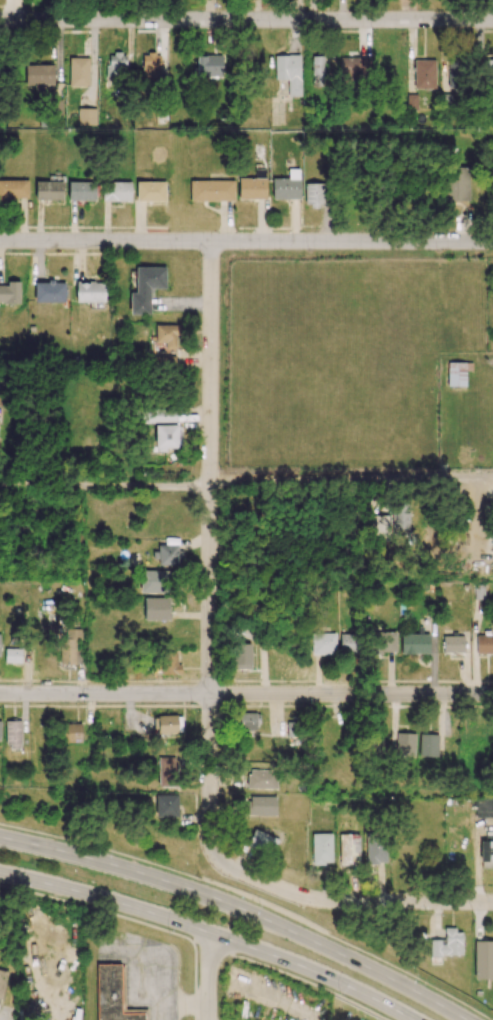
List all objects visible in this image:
road: (246, 20)
building: (116, 64)
building: (208, 65)
building: (151, 67)
building: (352, 69)
building: (78, 71)
building: (318, 72)
building: (488, 72)
building: (424, 73)
building: (39, 74)
building: (454, 74)
building: (285, 75)
building: (411, 102)
building: (86, 117)
building: (456, 183)
building: (252, 186)
building: (286, 186)
building: (13, 189)
building: (48, 190)
building: (211, 190)
building: (81, 191)
building: (116, 191)
building: (150, 191)
building: (313, 194)
road: (246, 241)
building: (145, 288)
building: (48, 291)
building: (89, 292)
building: (10, 293)
building: (166, 337)
building: (457, 373)
building: (0, 398)
building: (158, 415)
building: (167, 437)
road: (246, 486)
building: (400, 518)
building: (379, 527)
road: (208, 548)
building: (167, 555)
building: (153, 581)
building: (156, 608)
building: (386, 641)
building: (414, 643)
building: (322, 644)
building: (348, 644)
building: (453, 644)
building: (484, 644)
building: (69, 645)
building: (12, 655)
building: (240, 656)
building: (169, 664)
road: (246, 694)
building: (246, 721)
building: (165, 724)
building: (0, 730)
building: (70, 733)
building: (13, 734)
building: (404, 744)
building: (427, 745)
building: (167, 771)
building: (262, 779)
building: (166, 805)
building: (260, 805)
building: (483, 808)
building: (262, 842)
building: (321, 848)
building: (349, 848)
building: (375, 850)
building: (486, 851)
road: (253, 899)
road: (347, 901)
road: (240, 909)
road: (106, 913)
road: (211, 935)
building: (447, 944)
building: (483, 960)
road: (210, 977)
road: (301, 978)
building: (1, 981)
building: (113, 995)

